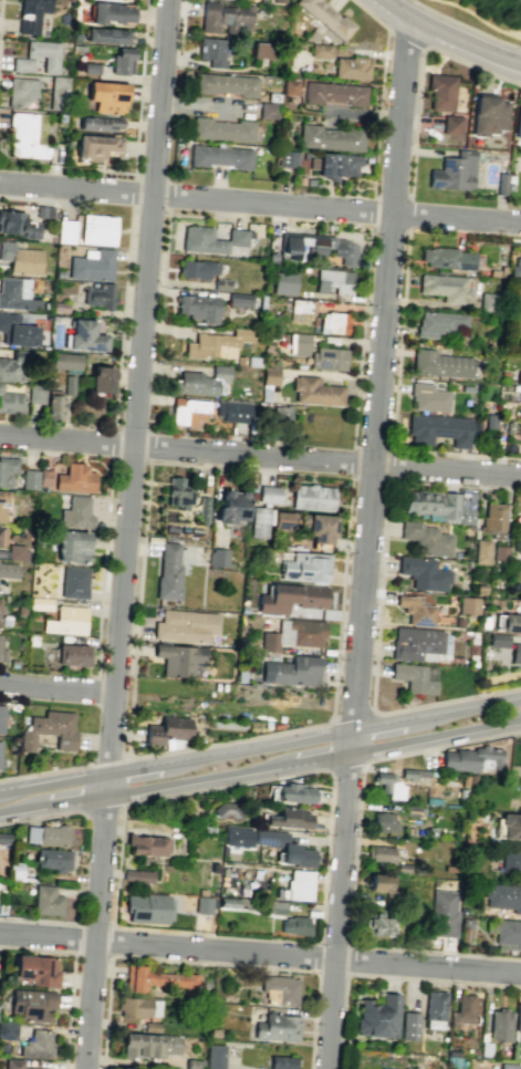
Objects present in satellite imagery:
building: (69, 0)
building: (279, 1)
road: (0, 2)
building: (108, 12)
building: (30, 14)
road: (368, 14)
park: (489, 14)
building: (325, 17)
building: (222, 18)
road: (478, 20)
road: (465, 27)
road: (180, 34)
building: (104, 35)
building: (75, 37)
road: (449, 37)
road: (405, 38)
building: (79, 48)
building: (261, 50)
building: (319, 50)
building: (210, 51)
building: (49, 56)
building: (121, 60)
building: (90, 68)
building: (350, 68)
road: (471, 68)
building: (226, 84)
building: (289, 86)
building: (20, 91)
building: (439, 91)
building: (333, 92)
building: (56, 93)
building: (105, 96)
building: (267, 110)
road: (378, 112)
building: (487, 115)
building: (60, 117)
road: (415, 121)
building: (517, 121)
building: (98, 123)
building: (450, 124)
building: (39, 127)
road: (137, 128)
building: (221, 129)
building: (23, 136)
building: (331, 137)
building: (96, 146)
building: (219, 156)
building: (286, 158)
building: (336, 165)
building: (454, 172)
building: (300, 180)
building: (309, 181)
building: (501, 184)
building: (316, 185)
road: (132, 189)
road: (168, 195)
road: (39, 199)
road: (260, 204)
road: (373, 210)
building: (43, 212)
road: (409, 214)
building: (17, 225)
building: (97, 229)
building: (65, 231)
building: (209, 239)
road: (517, 239)
building: (320, 247)
building: (20, 258)
building: (270, 258)
building: (447, 258)
building: (91, 266)
building: (515, 267)
road: (163, 269)
building: (196, 269)
building: (498, 271)
building: (59, 273)
building: (333, 281)
building: (93, 283)
building: (283, 283)
building: (221, 284)
building: (444, 287)
building: (17, 294)
building: (98, 295)
building: (238, 300)
building: (488, 302)
building: (302, 305)
building: (59, 308)
building: (198, 308)
road: (122, 318)
building: (332, 322)
building: (438, 323)
building: (17, 331)
building: (84, 336)
road: (361, 336)
road: (399, 340)
building: (217, 343)
building: (268, 344)
building: (300, 344)
building: (327, 359)
building: (239, 360)
building: (64, 361)
building: (252, 361)
building: (440, 363)
building: (9, 371)
building: (269, 375)
road: (378, 375)
building: (518, 376)
building: (100, 378)
building: (199, 381)
building: (67, 384)
building: (467, 387)
building: (315, 391)
building: (35, 394)
building: (428, 396)
building: (10, 402)
building: (52, 405)
building: (231, 409)
building: (188, 412)
building: (279, 413)
building: (490, 421)
building: (507, 426)
building: (438, 428)
building: (520, 442)
road: (113, 443)
road: (372, 448)
road: (456, 454)
road: (260, 456)
road: (353, 463)
road: (390, 464)
building: (7, 469)
building: (43, 477)
building: (74, 478)
road: (371, 478)
building: (29, 479)
building: (177, 492)
building: (268, 494)
building: (311, 497)
building: (2, 504)
building: (437, 505)
building: (230, 506)
building: (202, 509)
building: (75, 512)
building: (492, 519)
building: (283, 520)
building: (258, 521)
building: (316, 527)
road: (127, 534)
building: (1, 536)
building: (425, 539)
building: (72, 546)
building: (14, 551)
building: (480, 551)
building: (499, 552)
building: (218, 557)
road: (103, 565)
building: (305, 567)
building: (8, 570)
building: (168, 572)
building: (423, 572)
building: (73, 582)
building: (479, 590)
building: (290, 598)
building: (39, 602)
road: (379, 604)
building: (467, 604)
building: (20, 608)
building: (415, 610)
building: (65, 620)
building: (3, 621)
building: (511, 622)
building: (185, 624)
building: (293, 634)
building: (497, 640)
building: (415, 643)
building: (515, 653)
building: (72, 654)
building: (2, 655)
building: (178, 658)
building: (12, 663)
building: (291, 671)
building: (411, 677)
road: (96, 684)
road: (59, 688)
road: (484, 705)
building: (1, 716)
road: (353, 717)
road: (399, 723)
road: (511, 723)
road: (306, 726)
building: (48, 729)
building: (166, 729)
road: (425, 738)
road: (351, 741)
building: (0, 744)
road: (277, 746)
road: (110, 759)
building: (470, 759)
road: (301, 760)
road: (346, 766)
road: (156, 767)
road: (43, 770)
building: (413, 774)
road: (361, 776)
road: (65, 781)
road: (180, 781)
building: (463, 781)
building: (388, 785)
road: (10, 790)
building: (292, 792)
building: (460, 793)
road: (331, 796)
road: (56, 802)
road: (100, 808)
building: (226, 809)
building: (410, 810)
road: (2, 811)
road: (38, 818)
building: (288, 818)
building: (383, 821)
building: (510, 826)
building: (430, 831)
building: (46, 834)
building: (237, 836)
building: (3, 838)
building: (146, 844)
building: (285, 848)
building: (379, 853)
building: (52, 859)
building: (511, 863)
building: (213, 868)
building: (402, 868)
building: (14, 870)
building: (137, 875)
building: (377, 882)
building: (299, 885)
building: (201, 892)
building: (502, 896)
building: (45, 900)
building: (227, 903)
building: (202, 904)
building: (148, 907)
building: (1, 909)
road: (337, 910)
building: (461, 911)
building: (442, 913)
road: (39, 920)
building: (465, 923)
building: (294, 925)
building: (376, 925)
building: (508, 932)
road: (76, 937)
road: (110, 940)
road: (333, 941)
road: (37, 949)
road: (438, 952)
road: (260, 953)
road: (92, 954)
road: (317, 956)
road: (354, 959)
road: (205, 963)
building: (35, 969)
road: (331, 972)
road: (385, 977)
building: (160, 979)
building: (279, 989)
building: (31, 1004)
building: (434, 1005)
building: (134, 1006)
building: (461, 1009)
road: (69, 1010)
building: (377, 1016)
building: (518, 1021)
building: (408, 1025)
building: (499, 1025)
building: (150, 1026)
building: (277, 1027)
building: (7, 1030)
building: (213, 1032)
building: (35, 1045)
building: (148, 1045)
building: (484, 1048)
building: (452, 1052)
building: (215, 1056)
building: (281, 1062)
building: (192, 1063)
building: (14, 1065)
building: (508, 1066)
building: (124, 1068)

